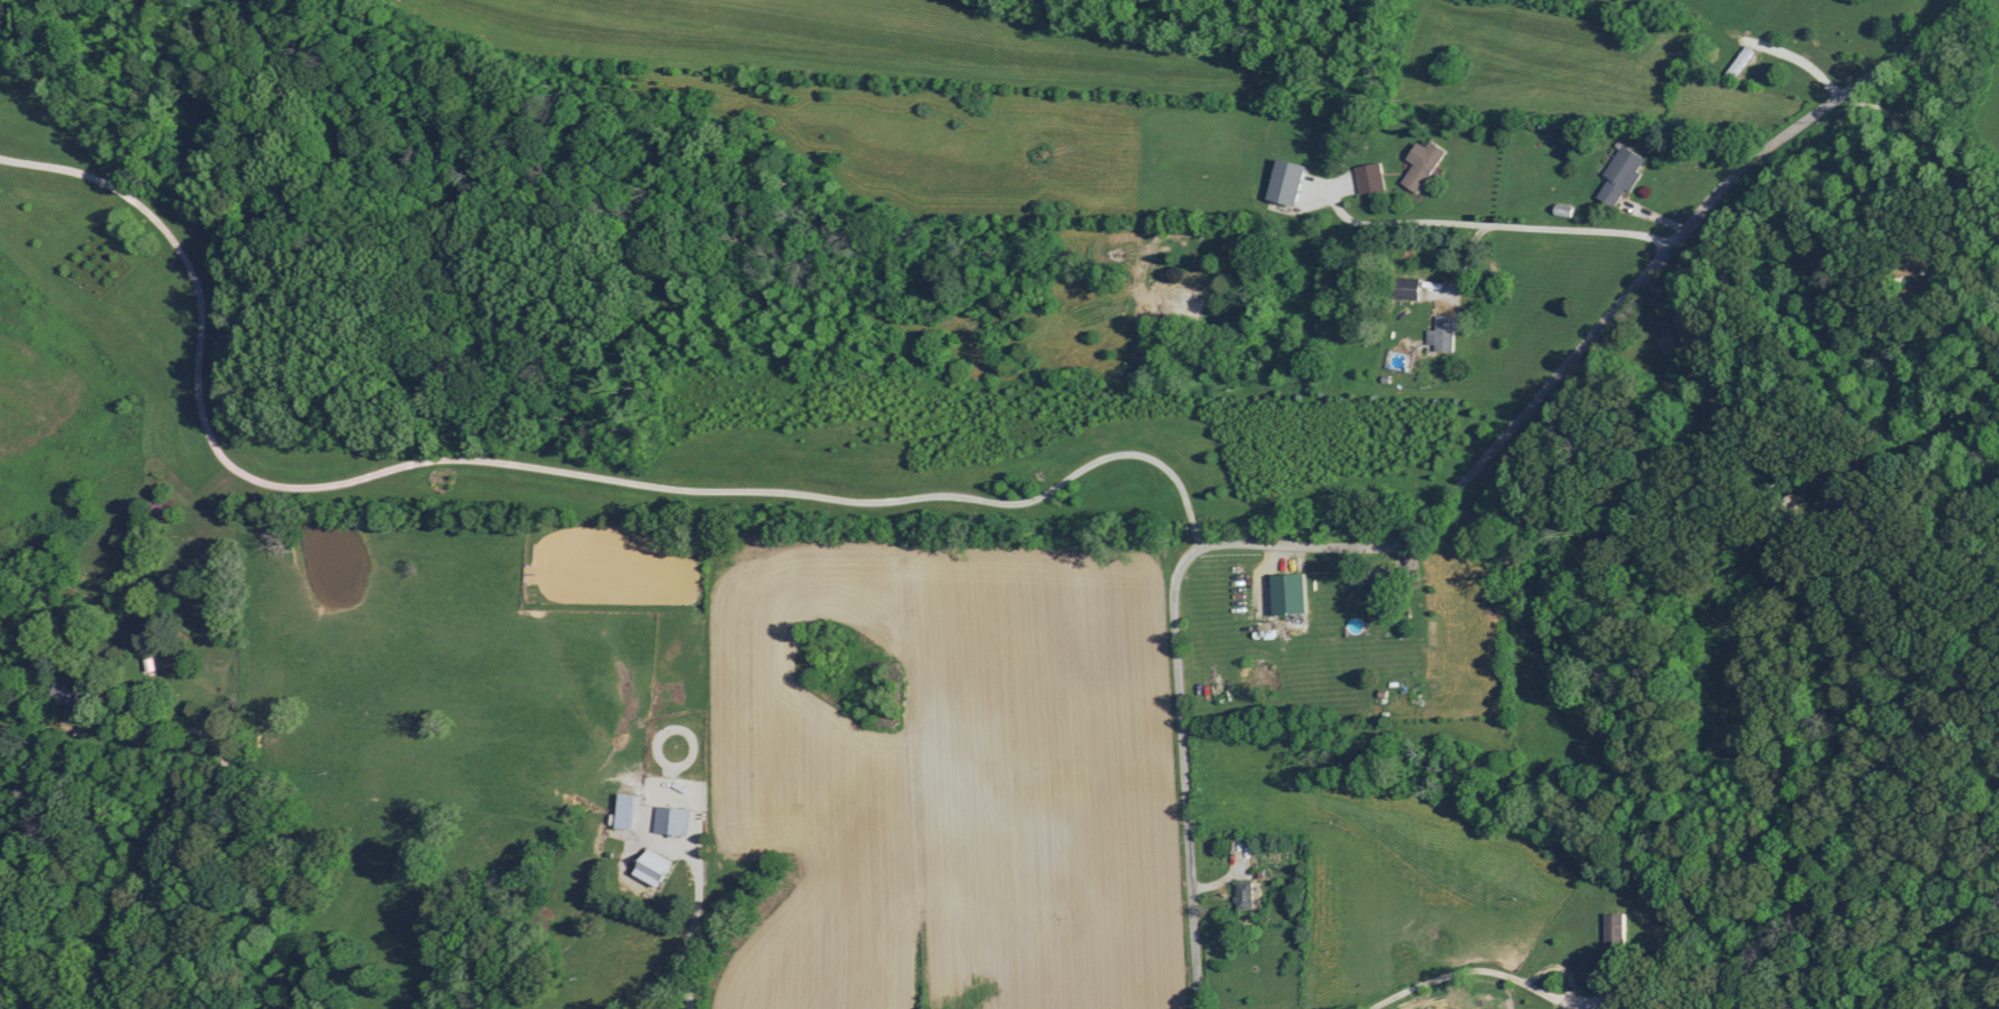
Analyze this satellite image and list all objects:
building: (1740, 60)
building: (1421, 164)
building: (1620, 174)
building: (1369, 177)
building: (1285, 181)
road: (1499, 226)
building: (1404, 287)
building: (1173, 302)
building: (1443, 332)
road: (1711, 392)
road: (529, 468)
road: (1444, 503)
building: (1288, 593)
building: (64, 689)
building: (624, 811)
road: (197, 815)
building: (671, 820)
building: (652, 867)
building: (1243, 894)
building: (1614, 928)
road: (693, 953)
road: (1468, 971)
road: (9, 1004)

